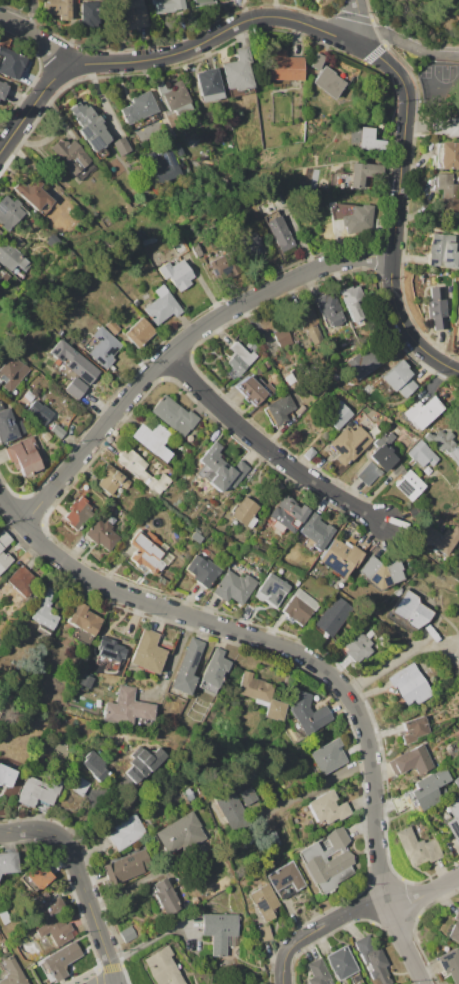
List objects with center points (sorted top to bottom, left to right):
building: (200, 1)
road: (454, 3)
building: (167, 6)
building: (59, 8)
building: (89, 14)
building: (134, 14)
road: (31, 15)
road: (353, 20)
road: (37, 38)
road: (403, 41)
park: (426, 49)
road: (159, 56)
building: (316, 60)
building: (12, 63)
building: (282, 68)
park: (425, 72)
park: (447, 73)
building: (238, 75)
building: (328, 82)
building: (208, 84)
building: (3, 89)
building: (174, 98)
road: (435, 100)
road: (412, 101)
building: (138, 107)
building: (448, 126)
building: (90, 128)
building: (148, 129)
building: (366, 139)
building: (121, 145)
building: (178, 151)
building: (449, 155)
building: (72, 157)
building: (162, 166)
building: (355, 175)
building: (448, 194)
building: (34, 195)
road: (396, 206)
building: (9, 211)
building: (352, 217)
building: (279, 231)
building: (0, 232)
building: (17, 241)
building: (53, 241)
building: (251, 246)
building: (179, 247)
building: (196, 250)
building: (443, 250)
building: (11, 257)
building: (224, 268)
building: (177, 274)
building: (352, 304)
building: (161, 306)
building: (436, 308)
building: (329, 310)
building: (457, 316)
building: (307, 320)
building: (112, 327)
building: (139, 332)
building: (247, 333)
building: (282, 338)
road: (176, 345)
building: (103, 347)
building: (239, 359)
building: (368, 359)
building: (74, 361)
building: (12, 372)
building: (290, 377)
building: (399, 379)
building: (75, 388)
building: (254, 388)
building: (295, 399)
building: (278, 409)
building: (301, 410)
building: (39, 412)
building: (422, 412)
building: (174, 415)
building: (337, 415)
building: (388, 421)
building: (9, 426)
building: (391, 427)
building: (56, 429)
building: (46, 436)
building: (153, 440)
building: (349, 443)
building: (444, 445)
road: (267, 450)
building: (310, 452)
building: (421, 453)
building: (145, 454)
building: (25, 456)
building: (376, 464)
building: (219, 469)
building: (142, 471)
building: (111, 480)
building: (407, 482)
building: (456, 487)
building: (245, 511)
building: (77, 513)
building: (287, 514)
building: (315, 532)
building: (101, 534)
building: (196, 537)
building: (439, 538)
building: (148, 551)
building: (1, 552)
building: (340, 556)
building: (202, 570)
building: (381, 572)
building: (22, 582)
building: (234, 587)
building: (271, 589)
building: (398, 591)
building: (300, 607)
building: (46, 610)
building: (409, 612)
building: (334, 616)
building: (82, 622)
building: (41, 630)
road: (268, 642)
building: (358, 644)
building: (110, 649)
building: (147, 651)
road: (400, 658)
road: (174, 662)
building: (187, 667)
building: (214, 667)
building: (410, 685)
building: (261, 695)
building: (1, 708)
building: (127, 708)
building: (307, 713)
building: (413, 729)
building: (328, 757)
building: (411, 760)
building: (144, 763)
building: (94, 765)
building: (6, 774)
building: (456, 781)
building: (78, 785)
road: (319, 785)
building: (429, 790)
building: (38, 791)
building: (189, 794)
building: (249, 796)
building: (328, 807)
building: (232, 811)
building: (454, 819)
building: (127, 832)
building: (180, 835)
building: (271, 840)
building: (418, 847)
building: (327, 860)
building: (8, 862)
building: (126, 867)
building: (37, 878)
building: (284, 878)
road: (82, 880)
building: (165, 897)
building: (264, 901)
building: (45, 905)
road: (362, 907)
building: (455, 928)
building: (56, 929)
building: (219, 930)
building: (264, 933)
building: (128, 934)
road: (403, 945)
building: (61, 960)
building: (373, 960)
building: (343, 964)
building: (450, 964)
building: (163, 967)
building: (12, 972)
building: (318, 972)
road: (282, 975)
building: (331, 981)

